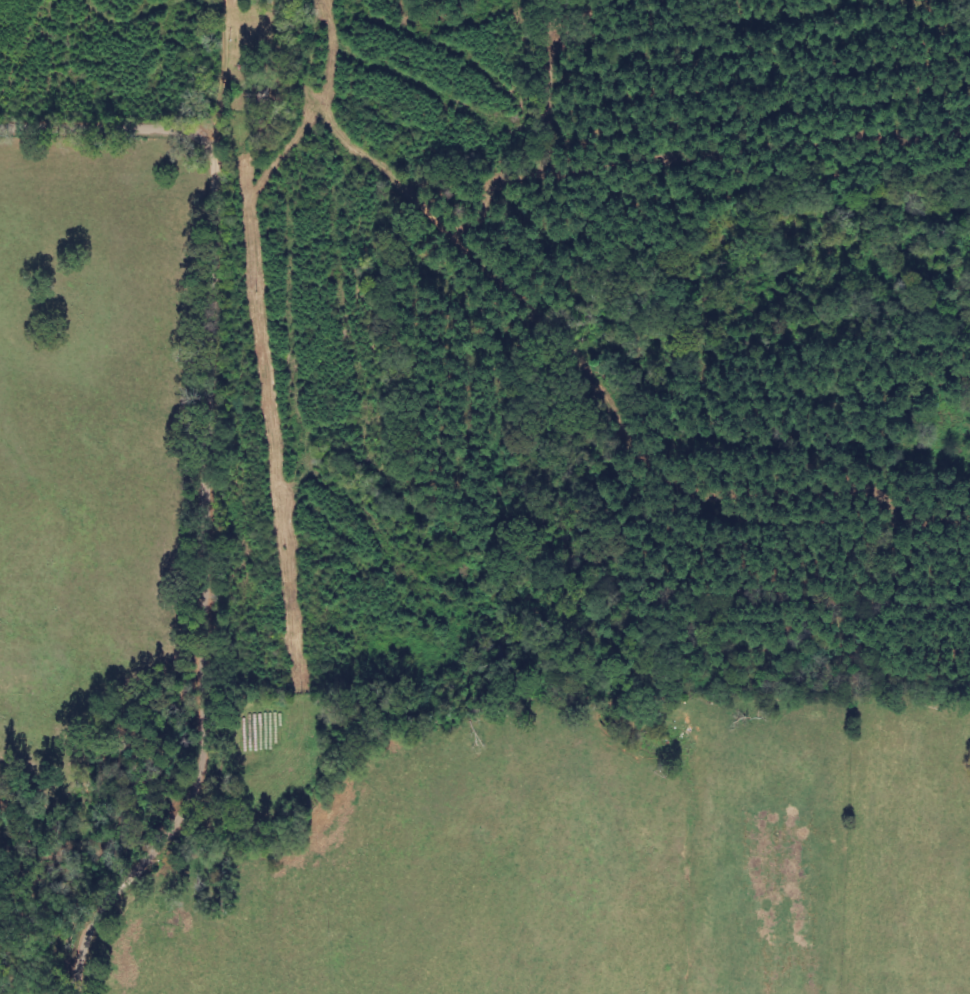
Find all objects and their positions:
road: (218, 87)
road: (99, 165)
road: (196, 586)

